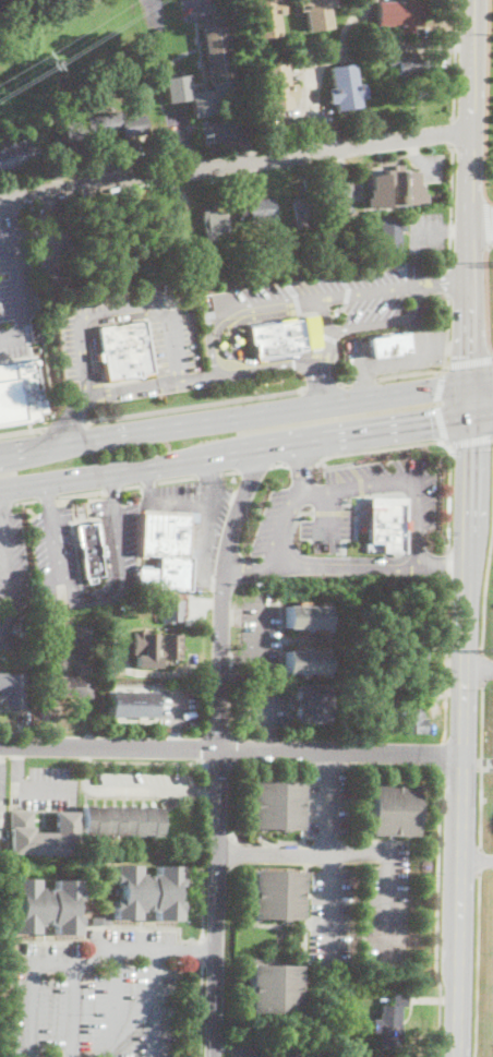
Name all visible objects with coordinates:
building: (4, 3)
road: (197, 5)
road: (156, 7)
parking lot: (197, 9)
parking lot: (154, 11)
building: (316, 12)
building: (399, 14)
building: (266, 16)
road: (0, 45)
building: (381, 45)
building: (217, 51)
power tower: (49, 53)
road: (455, 59)
building: (405, 63)
road: (318, 70)
building: (277, 87)
building: (346, 87)
road: (488, 103)
road: (472, 118)
building: (103, 127)
road: (453, 131)
building: (16, 155)
road: (236, 164)
road: (339, 172)
building: (395, 188)
road: (449, 205)
building: (305, 208)
road: (9, 209)
building: (257, 209)
building: (166, 214)
road: (481, 215)
road: (488, 221)
building: (215, 223)
road: (458, 231)
parking lot: (425, 233)
road: (429, 233)
building: (392, 235)
building: (340, 252)
power tower: (492, 262)
road: (448, 277)
road: (447, 280)
road: (423, 285)
parking lot: (14, 286)
road: (448, 287)
road: (19, 289)
road: (486, 297)
road: (286, 298)
road: (124, 307)
road: (464, 310)
road: (479, 310)
road: (240, 313)
building: (206, 314)
road: (96, 322)
road: (385, 323)
road: (446, 328)
road: (327, 332)
building: (284, 335)
building: (384, 343)
road: (450, 345)
road: (235, 347)
building: (124, 350)
parking lot: (396, 353)
road: (404, 356)
traffic signals: (464, 356)
road: (469, 361)
road: (414, 374)
road: (204, 376)
road: (364, 379)
road: (365, 382)
road: (345, 384)
road: (321, 386)
road: (322, 387)
building: (21, 392)
road: (470, 400)
road: (195, 406)
road: (436, 406)
road: (72, 416)
road: (245, 416)
road: (481, 416)
traffic signals: (432, 424)
road: (65, 427)
road: (22, 432)
road: (469, 439)
road: (378, 447)
traffic signals: (470, 448)
road: (235, 453)
road: (300, 460)
road: (335, 464)
road: (278, 465)
road: (209, 468)
road: (254, 468)
road: (300, 469)
road: (230, 472)
road: (209, 475)
road: (360, 476)
road: (176, 478)
road: (400, 480)
road: (148, 482)
road: (111, 484)
road: (130, 484)
road: (148, 484)
road: (112, 488)
road: (81, 492)
road: (227, 493)
road: (468, 493)
road: (47, 494)
road: (448, 494)
road: (48, 496)
road: (26, 501)
road: (5, 503)
road: (180, 504)
road: (1, 508)
road: (327, 514)
road: (356, 514)
parking lot: (344, 519)
road: (1, 521)
building: (384, 521)
road: (1, 523)
road: (278, 525)
road: (207, 530)
building: (91, 550)
building: (167, 551)
road: (357, 560)
road: (348, 565)
road: (250, 567)
road: (443, 567)
road: (448, 567)
road: (10, 580)
road: (112, 581)
road: (213, 581)
road: (485, 593)
road: (95, 599)
building: (51, 600)
building: (55, 610)
building: (171, 610)
road: (466, 614)
building: (306, 617)
road: (260, 633)
building: (154, 648)
power tower: (486, 649)
building: (418, 650)
road: (241, 660)
building: (306, 661)
road: (446, 663)
road: (478, 665)
road: (483, 666)
building: (79, 668)
road: (155, 672)
building: (11, 690)
building: (127, 701)
building: (308, 701)
parking lot: (267, 704)
road: (268, 704)
parking lot: (178, 705)
road: (177, 707)
building: (413, 720)
road: (177, 738)
road: (267, 738)
road: (218, 748)
road: (231, 752)
road: (442, 757)
road: (218, 766)
road: (270, 766)
road: (482, 766)
road: (327, 767)
road: (393, 768)
road: (17, 769)
road: (87, 771)
parking lot: (143, 784)
parking lot: (45, 788)
road: (146, 789)
road: (47, 791)
road: (206, 792)
road: (207, 793)
parking lot: (2, 802)
building: (275, 805)
road: (306, 806)
building: (393, 809)
building: (120, 820)
building: (43, 833)
road: (303, 852)
road: (306, 856)
road: (330, 856)
road: (461, 858)
road: (481, 860)
road: (477, 862)
parking lot: (354, 885)
building: (146, 892)
building: (276, 894)
building: (45, 906)
road: (390, 906)
road: (436, 915)
building: (99, 921)
road: (308, 928)
road: (141, 948)
road: (191, 949)
road: (203, 952)
road: (479, 963)
road: (34, 964)
building: (270, 987)
parking lot: (97, 996)
road: (116, 1002)
road: (157, 1002)
road: (74, 1011)
road: (202, 1011)
building: (389, 1020)
road: (230, 1044)
road: (246, 1050)
building: (289, 1050)

